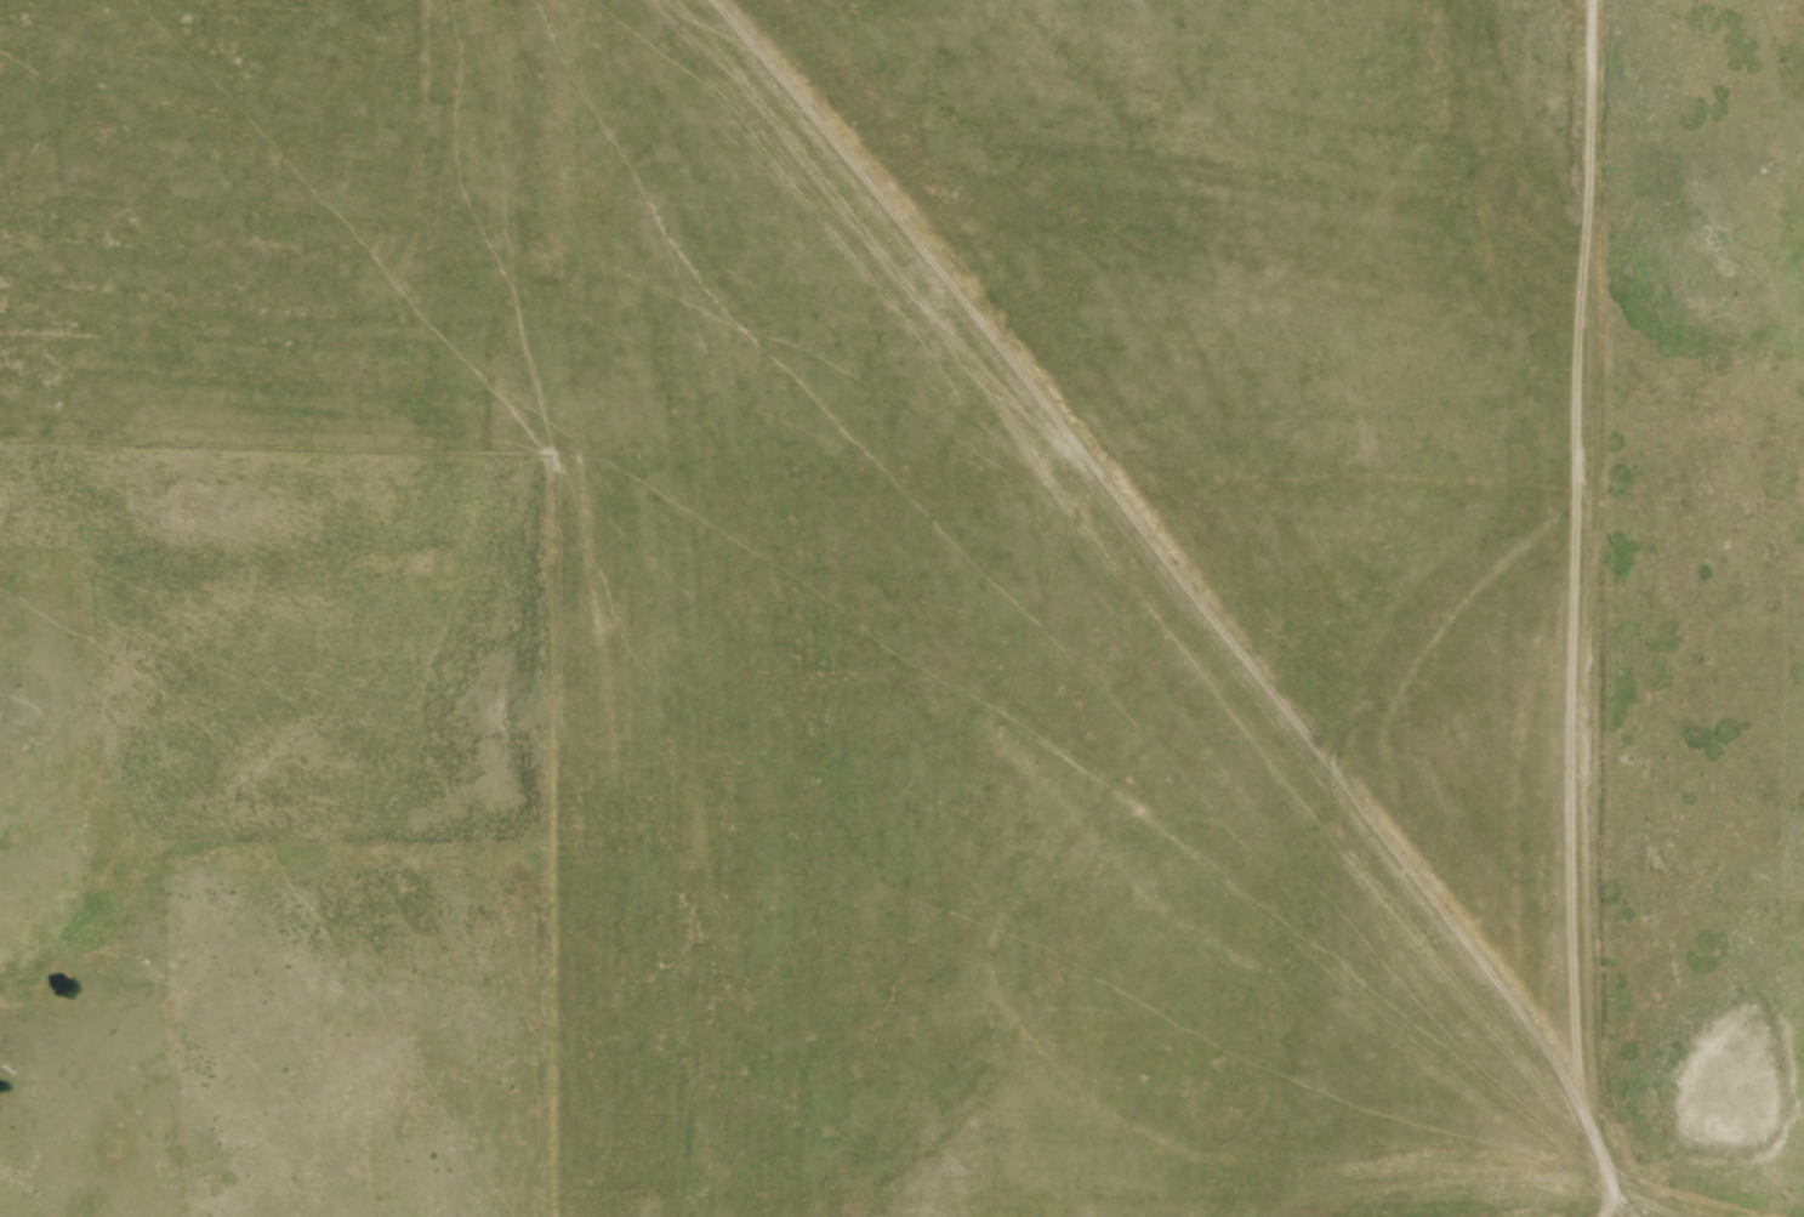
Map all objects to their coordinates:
road: (1590, 609)

